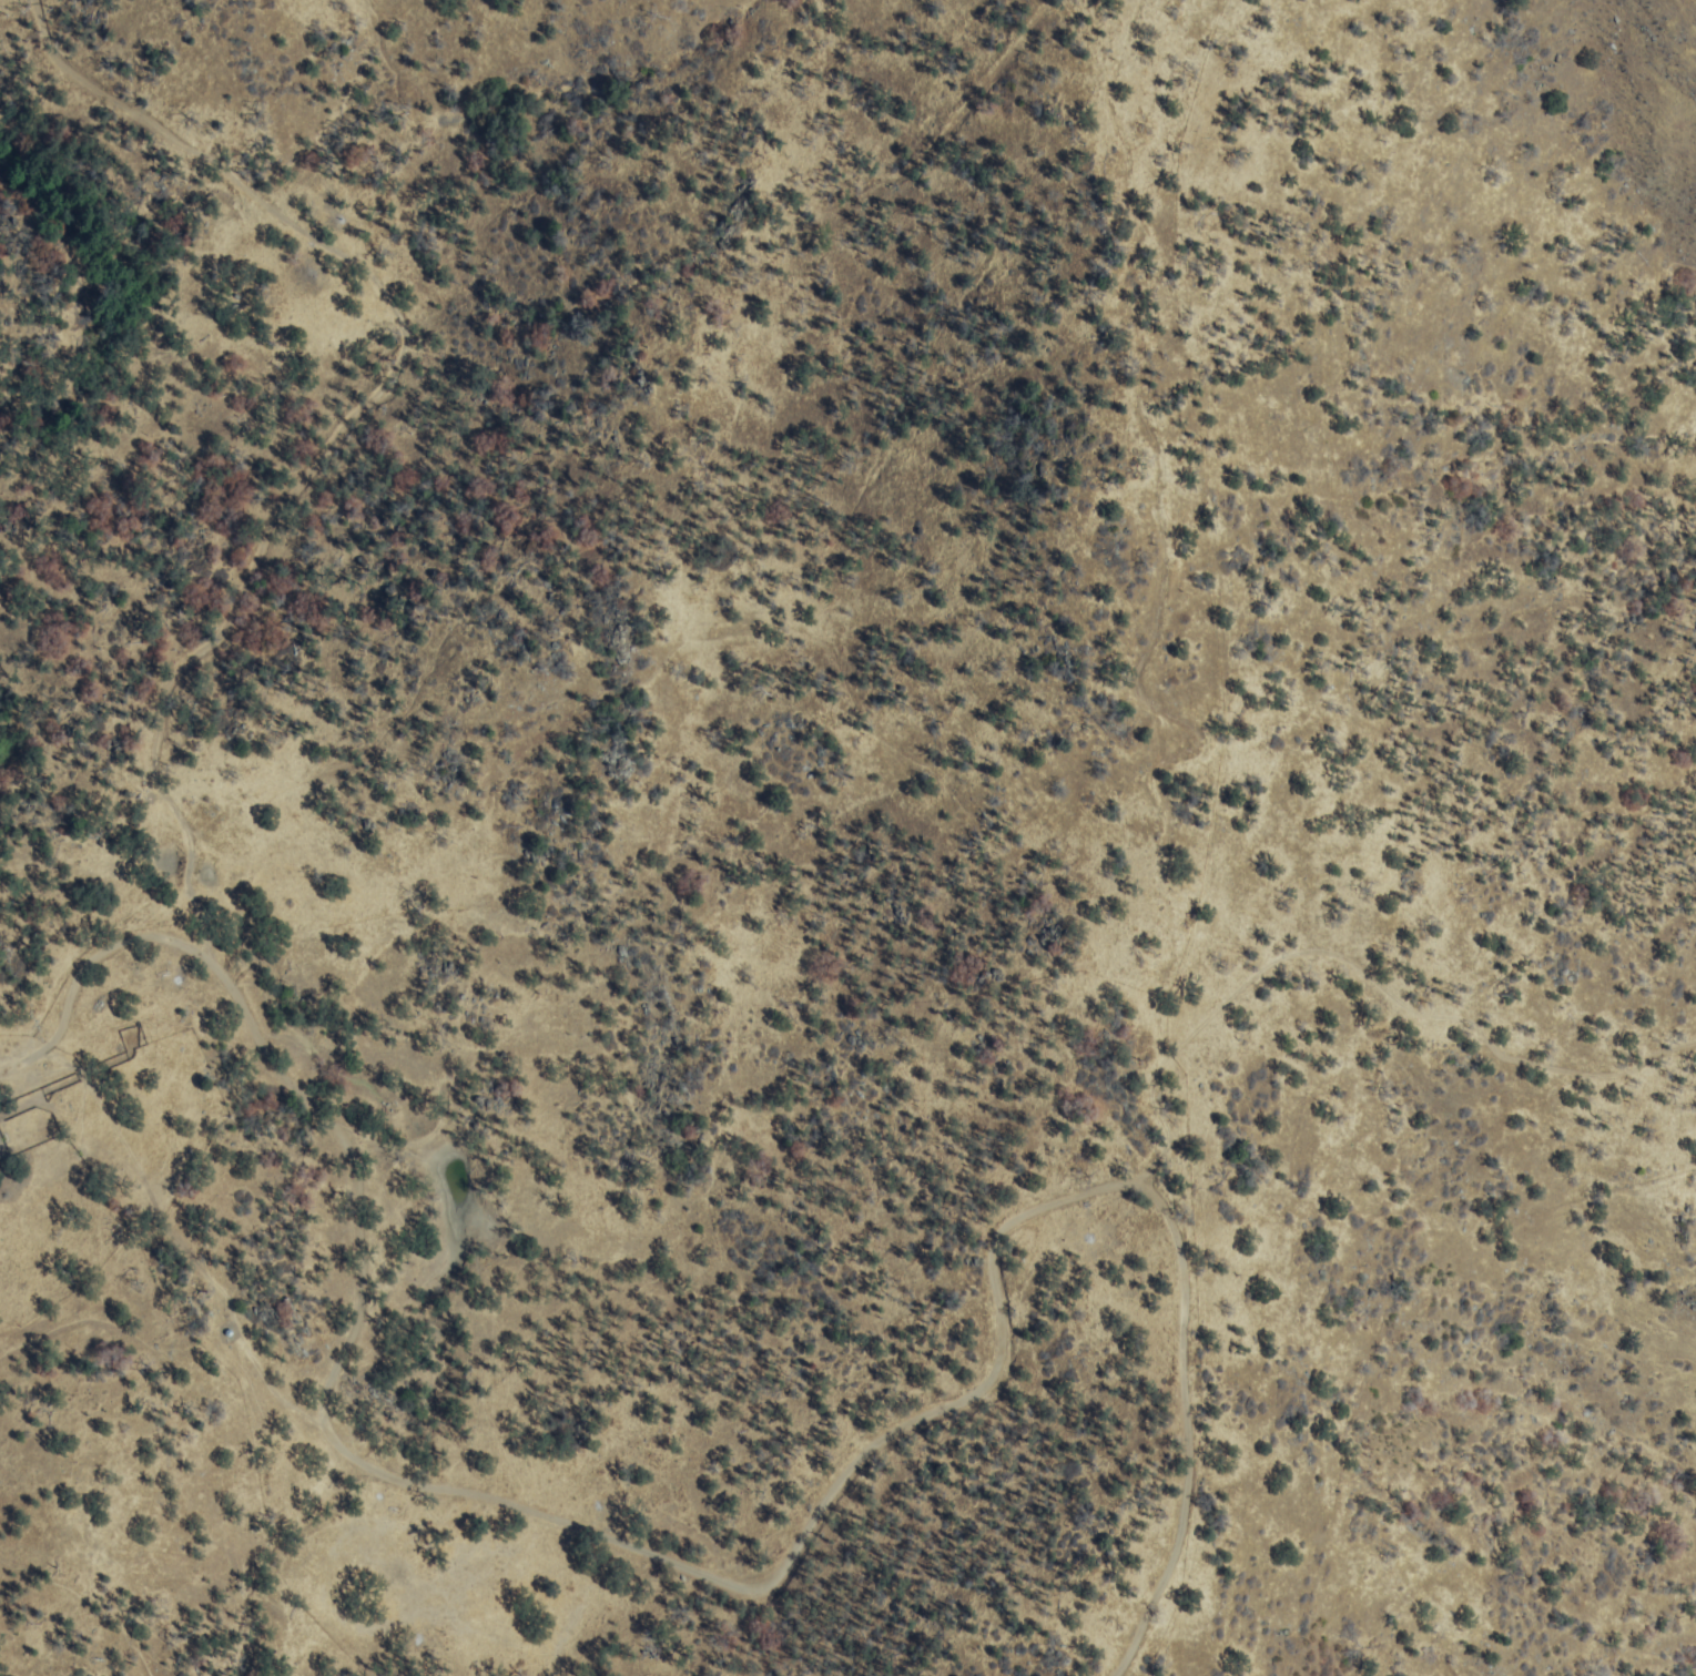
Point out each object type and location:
road: (712, 1543)

